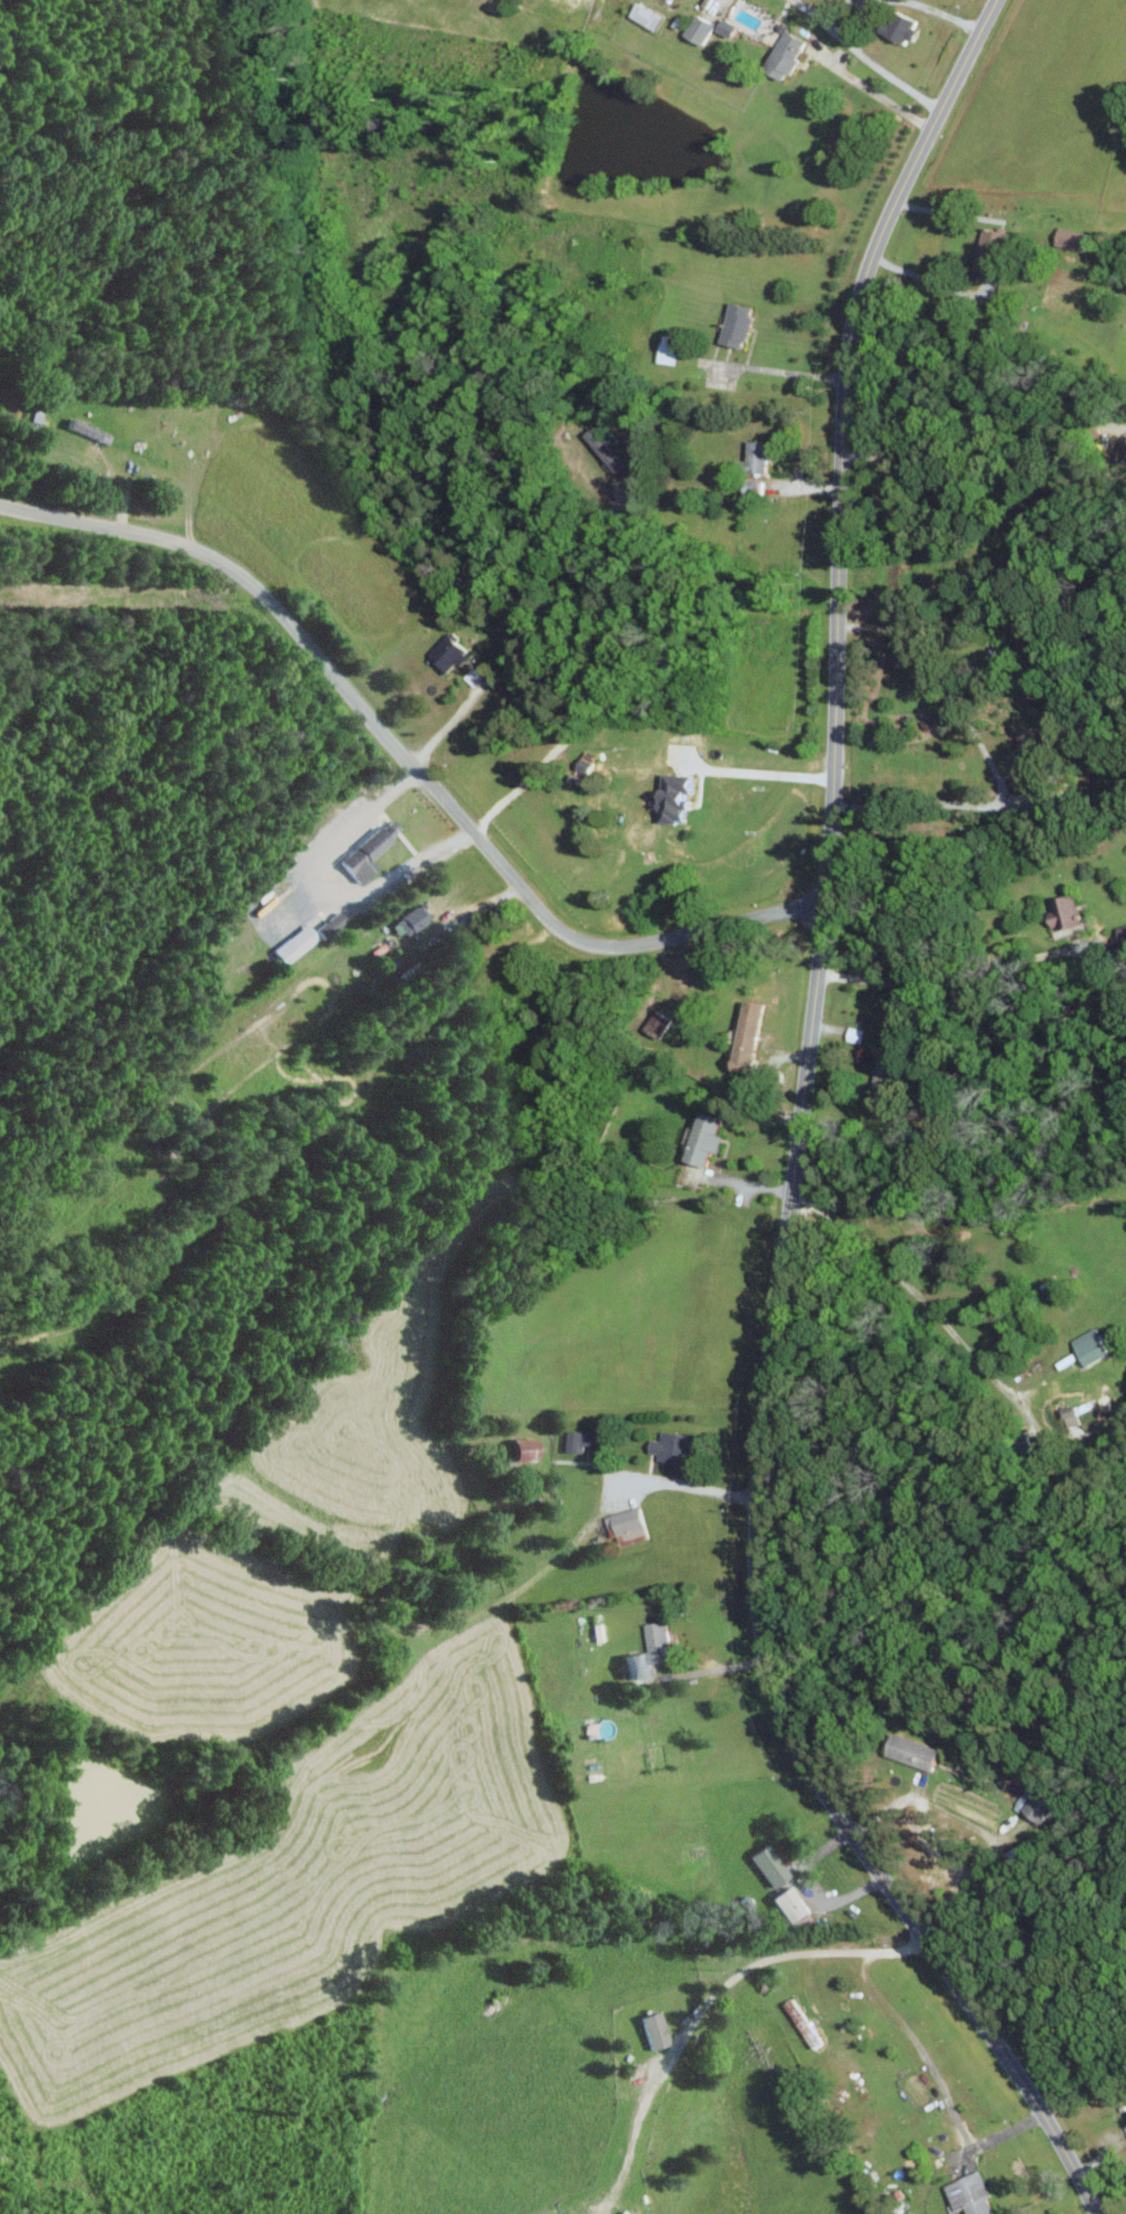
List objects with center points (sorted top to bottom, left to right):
road: (943, 13)
building: (648, 15)
road: (853, 21)
building: (901, 25)
building: (701, 29)
building: (730, 29)
building: (787, 55)
road: (864, 57)
road: (878, 97)
road: (949, 211)
building: (1073, 239)
building: (992, 252)
road: (931, 281)
building: (739, 325)
building: (669, 353)
road: (778, 371)
building: (88, 427)
road: (975, 440)
building: (758, 456)
building: (450, 651)
road: (584, 677)
road: (446, 724)
road: (977, 748)
road: (406, 759)
road: (752, 771)
building: (679, 796)
building: (370, 852)
road: (328, 885)
building: (1069, 912)
building: (413, 919)
building: (334, 924)
building: (299, 942)
road: (941, 983)
building: (855, 1034)
building: (751, 1036)
building: (887, 1075)
building: (708, 1137)
road: (795, 1138)
road: (737, 1182)
road: (922, 1301)
building: (1092, 1345)
building: (1078, 1416)
building: (580, 1440)
building: (675, 1447)
building: (529, 1448)
road: (686, 1485)
building: (627, 1524)
building: (653, 1651)
road: (710, 1668)
building: (915, 1752)
building: (1038, 1808)
road: (973, 1828)
building: (774, 1866)
road: (810, 1886)
building: (794, 1906)
road: (708, 2004)
building: (805, 2021)
building: (657, 2029)
road: (934, 2077)
building: (973, 2194)

